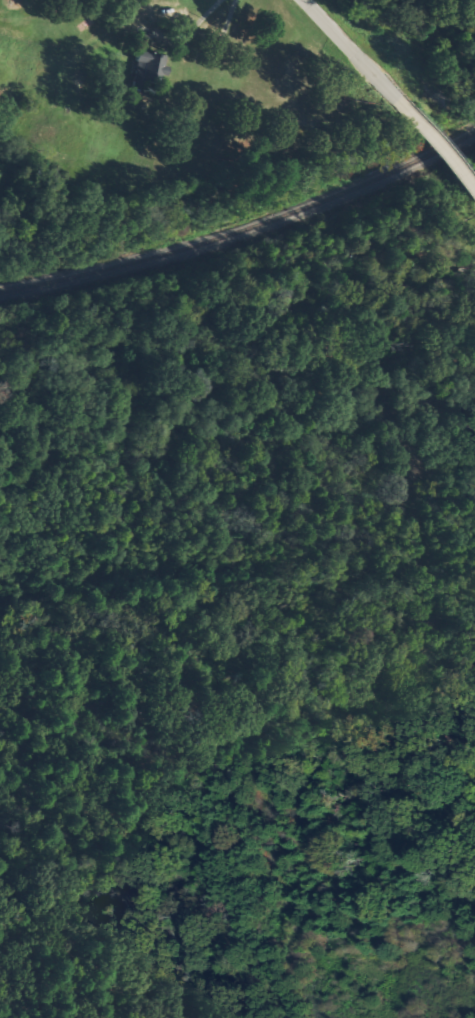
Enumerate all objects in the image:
road: (349, 51)
building: (147, 67)
road: (433, 148)
road: (474, 193)
railway: (242, 228)

